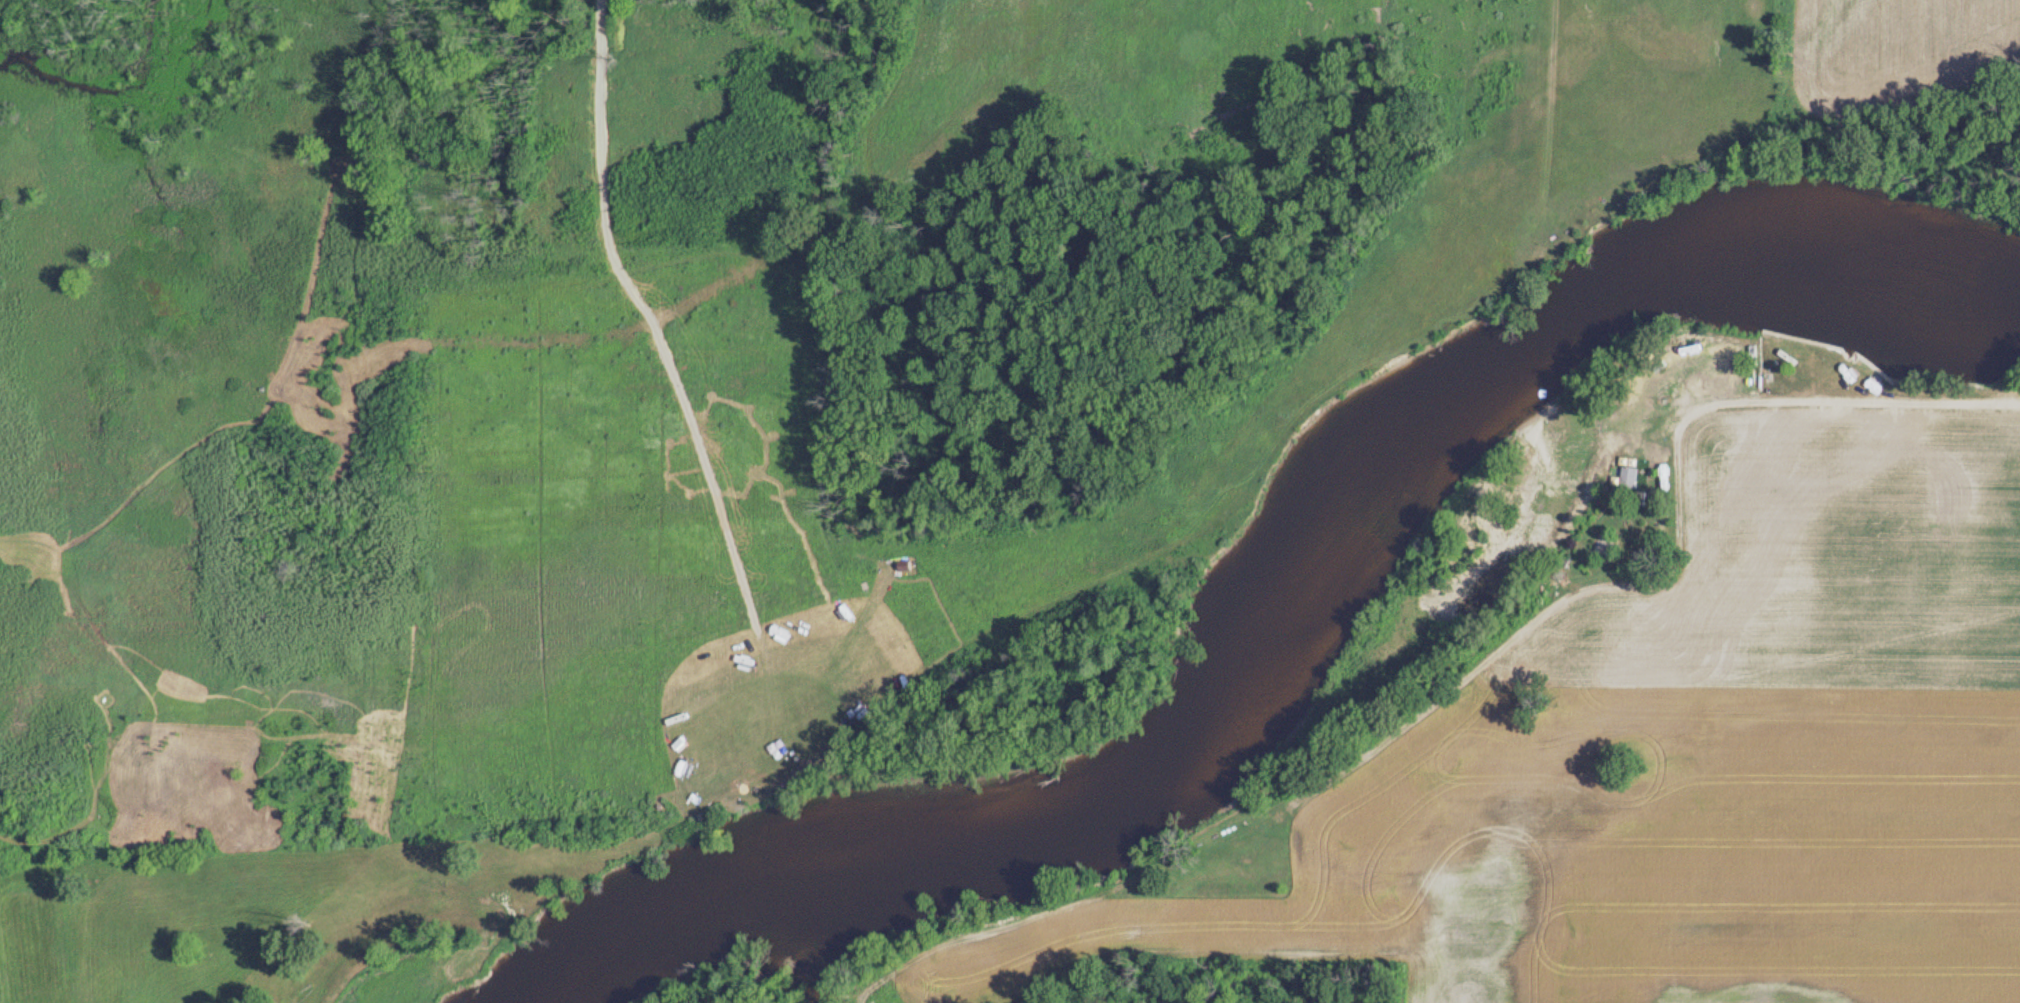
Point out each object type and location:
road: (1785, 402)
building: (1632, 478)
river: (1308, 615)

